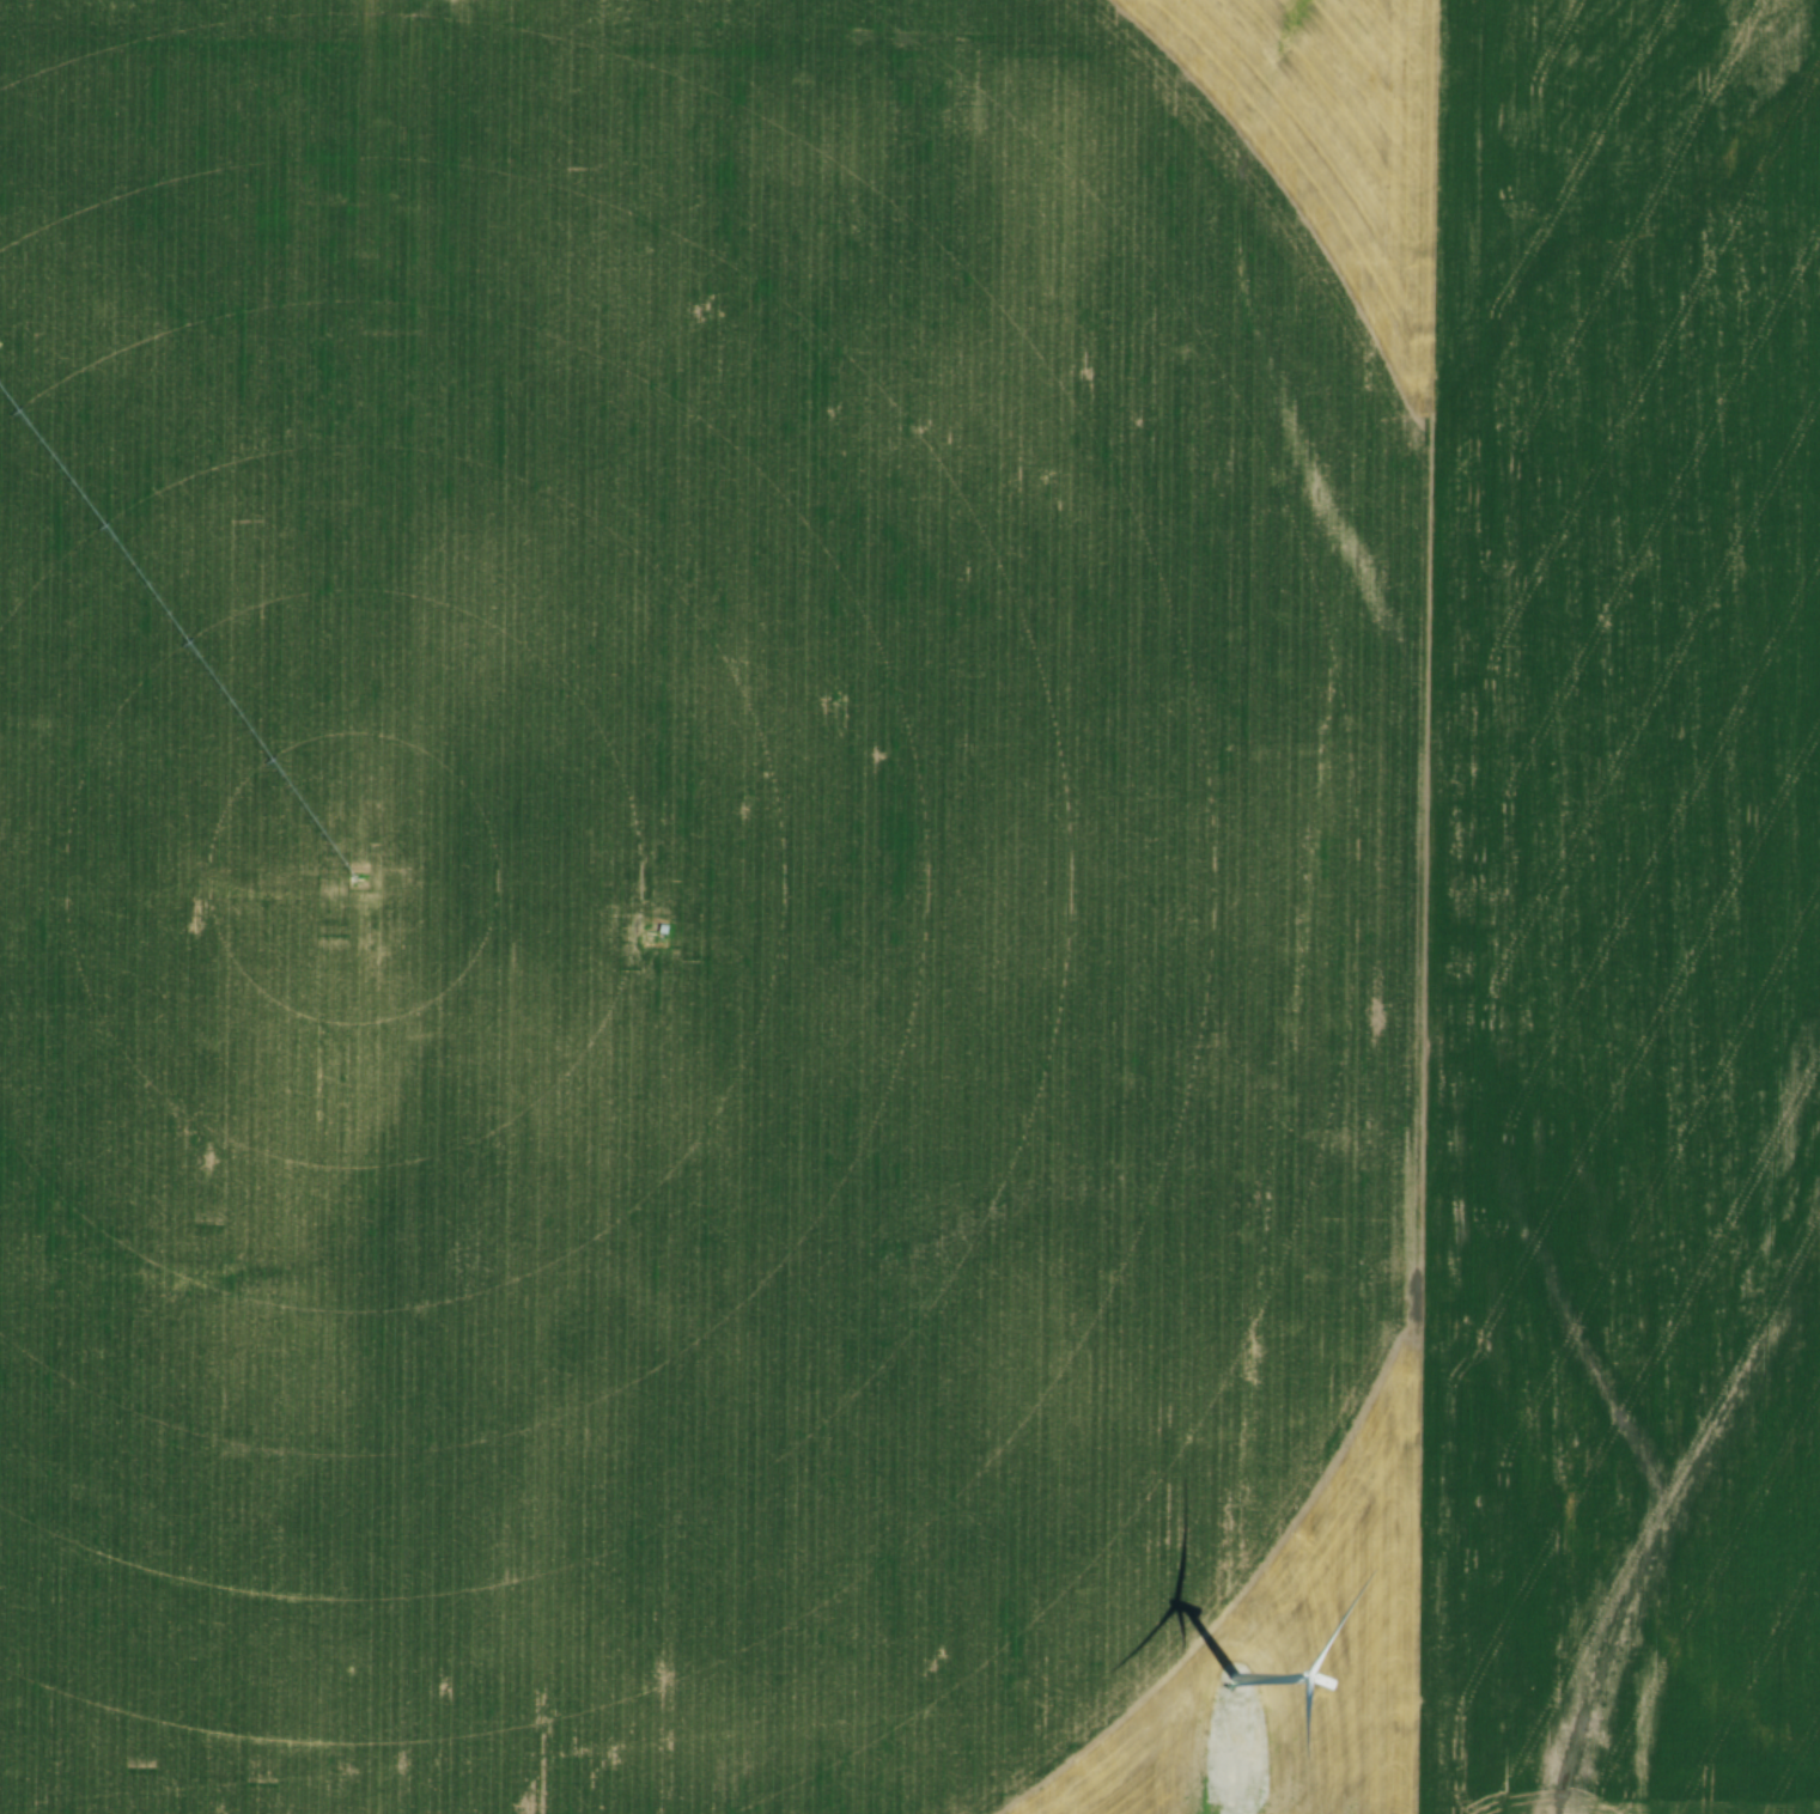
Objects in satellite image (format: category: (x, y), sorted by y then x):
wind turbine: (1235, 1679)

